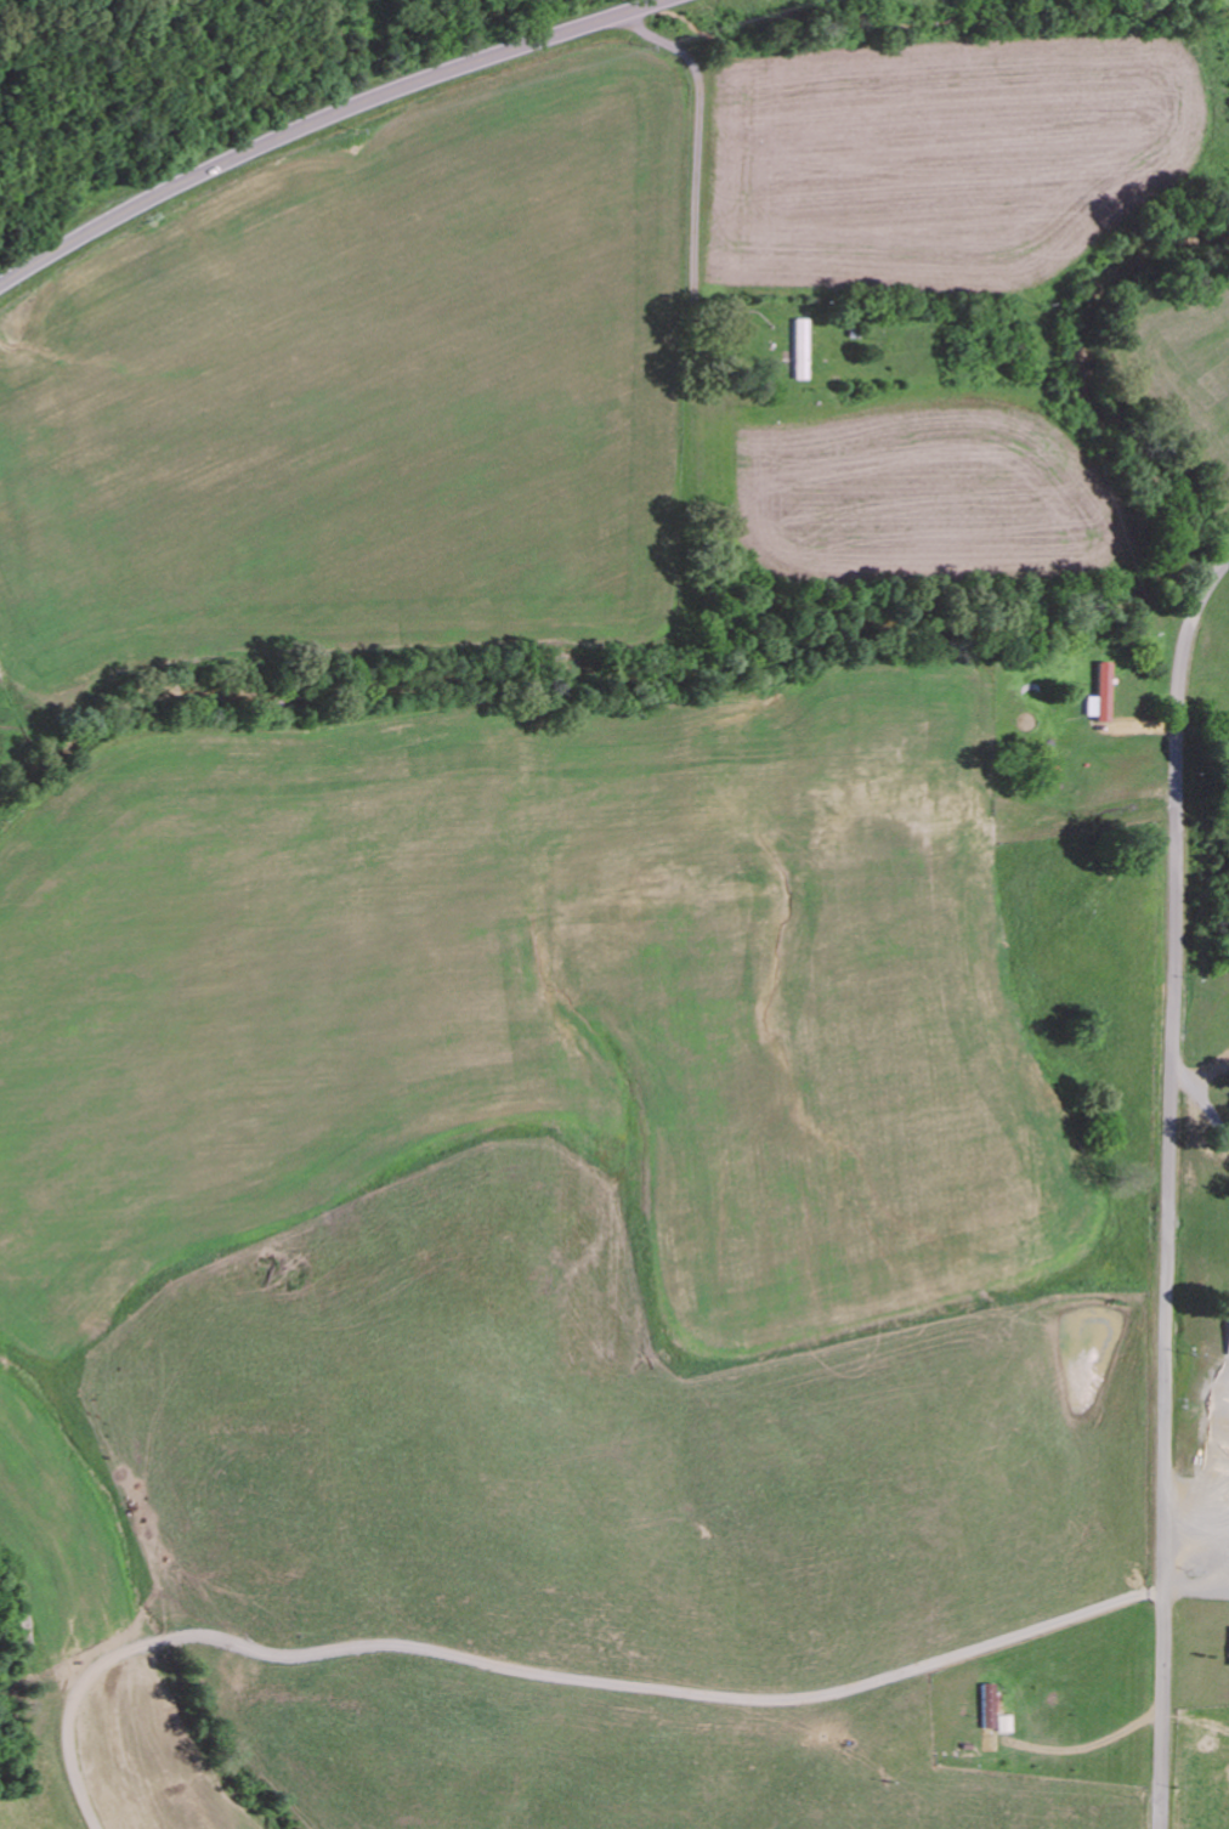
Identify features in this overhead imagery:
road: (315, 119)
road: (697, 147)
building: (1100, 693)
road: (1169, 1189)
building: (989, 1705)
building: (1006, 1723)

